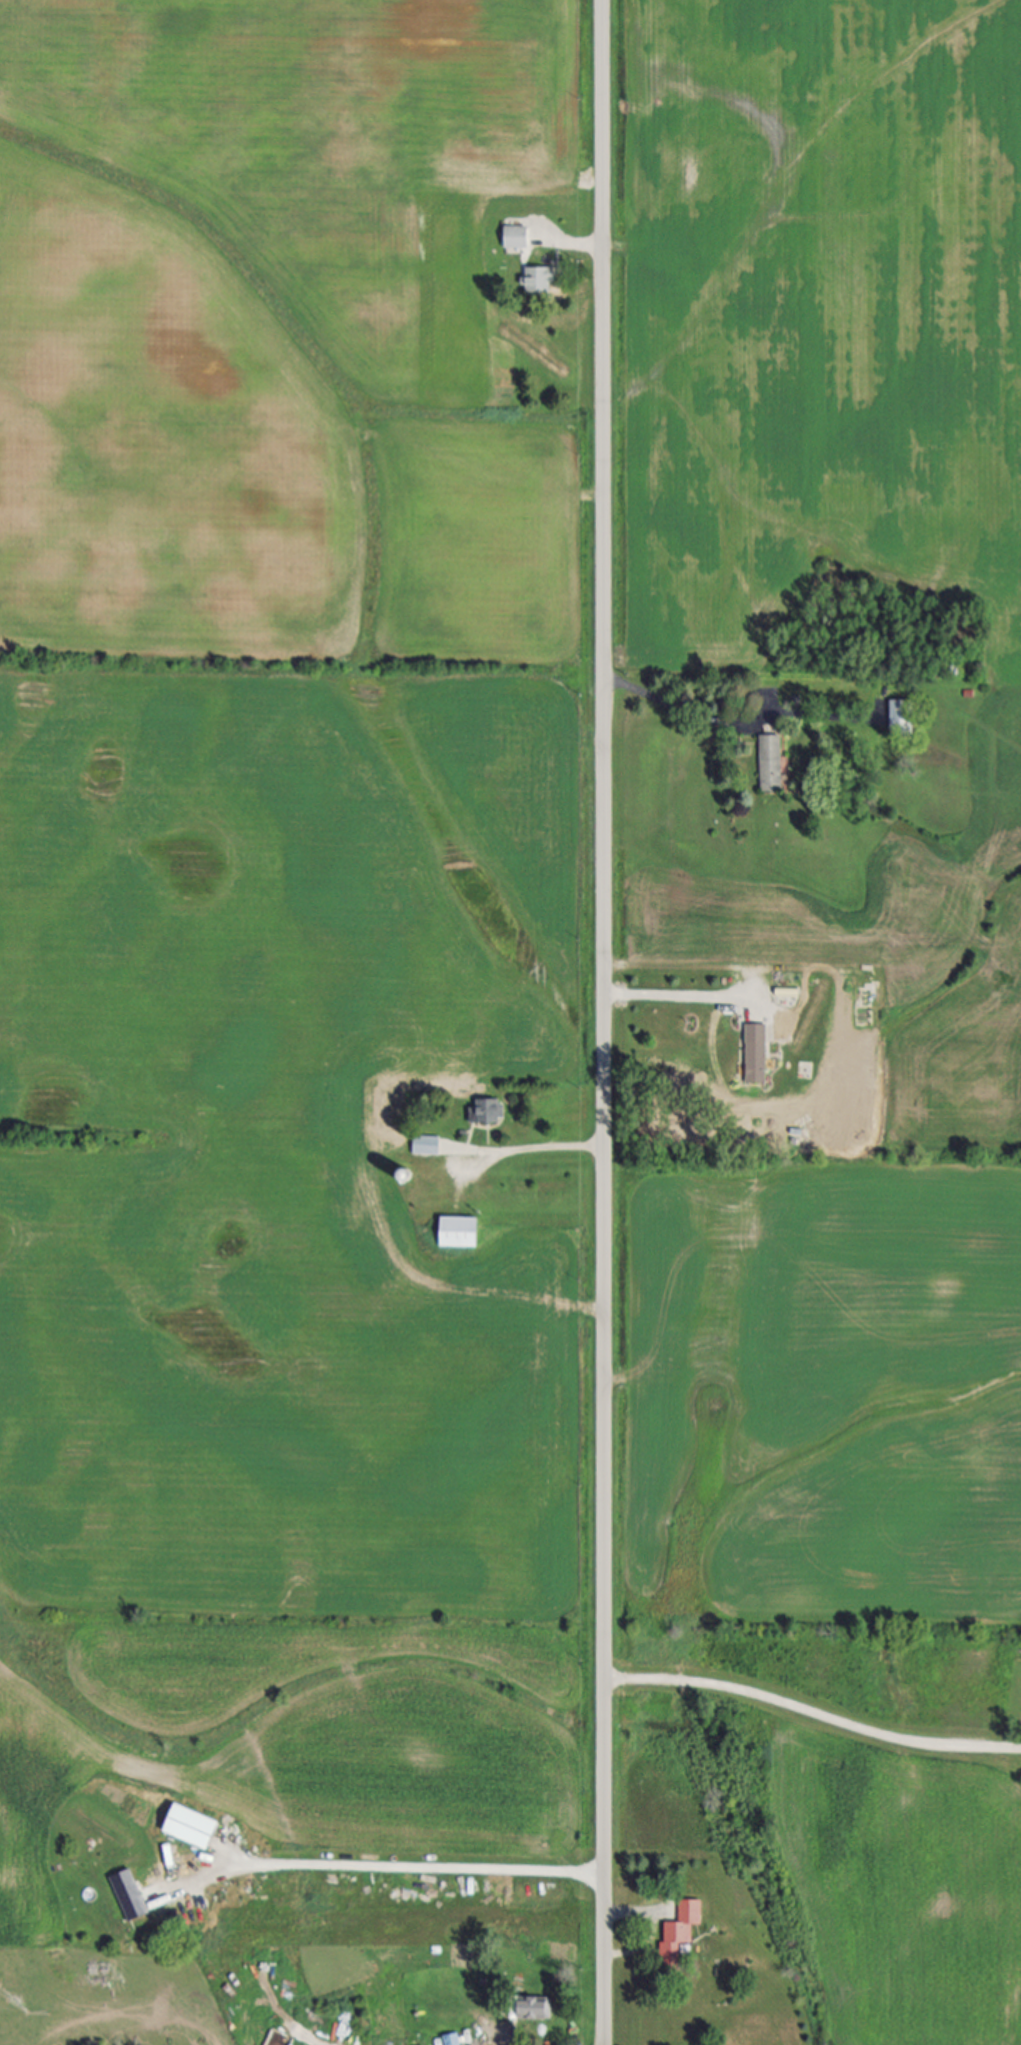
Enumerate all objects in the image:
building: (516, 237)
road: (576, 244)
building: (539, 281)
road: (683, 708)
building: (901, 716)
building: (771, 763)
road: (677, 999)
road: (603, 1022)
building: (756, 1055)
building: (487, 1113)
building: (426, 1146)
road: (533, 1149)
building: (407, 1177)
building: (459, 1233)
road: (811, 1714)
building: (192, 1828)
building: (169, 1855)
road: (425, 1868)
building: (131, 1896)
road: (668, 1933)
building: (681, 1935)
building: (535, 2011)
building: (452, 2040)

